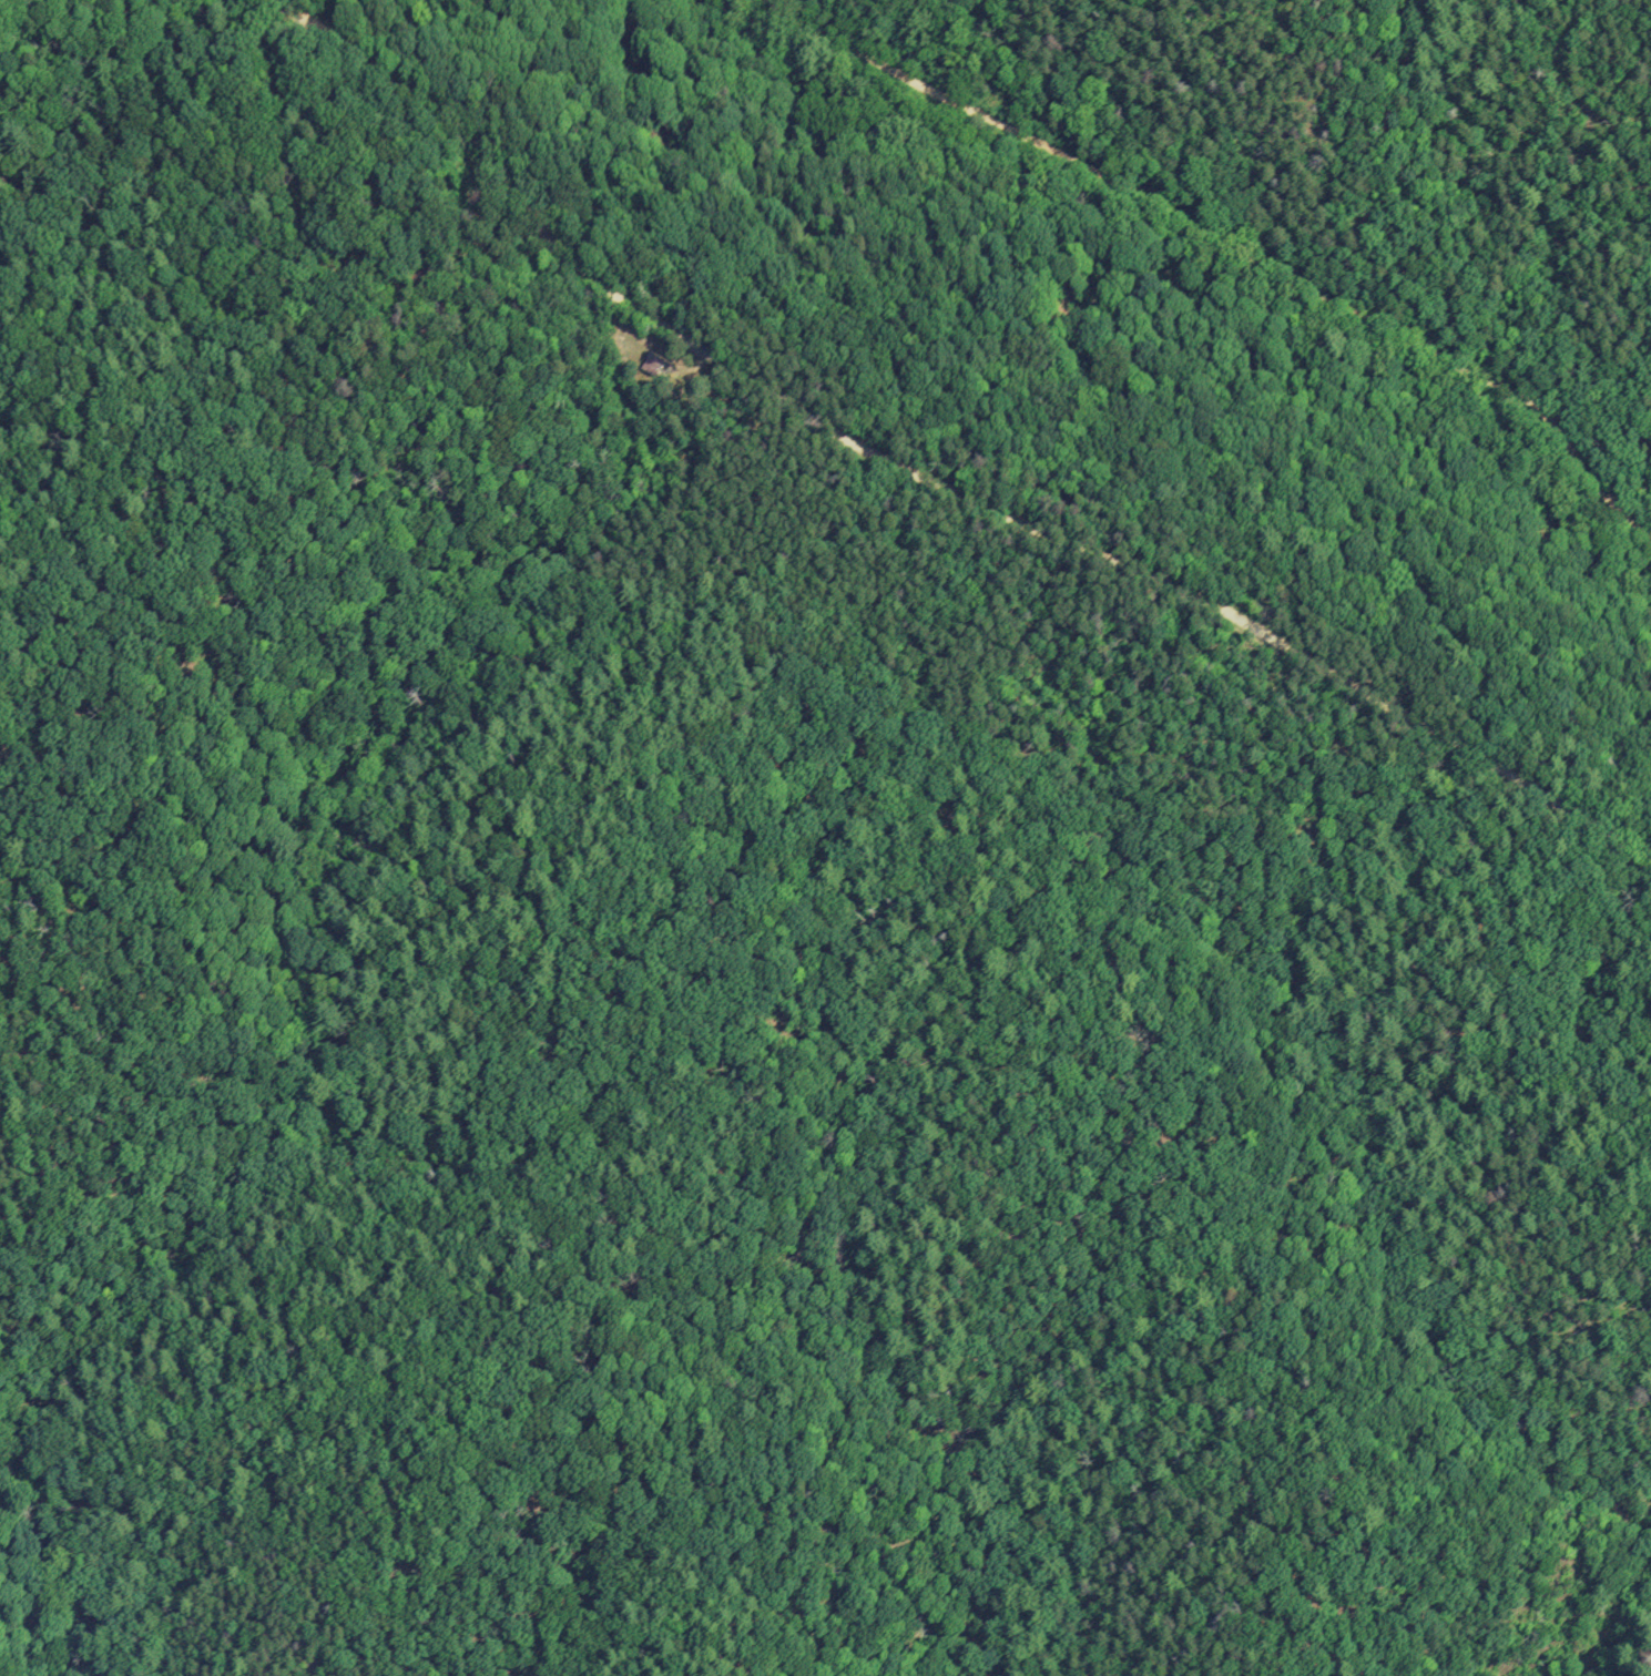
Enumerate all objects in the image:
road: (1227, 242)
road: (925, 480)

